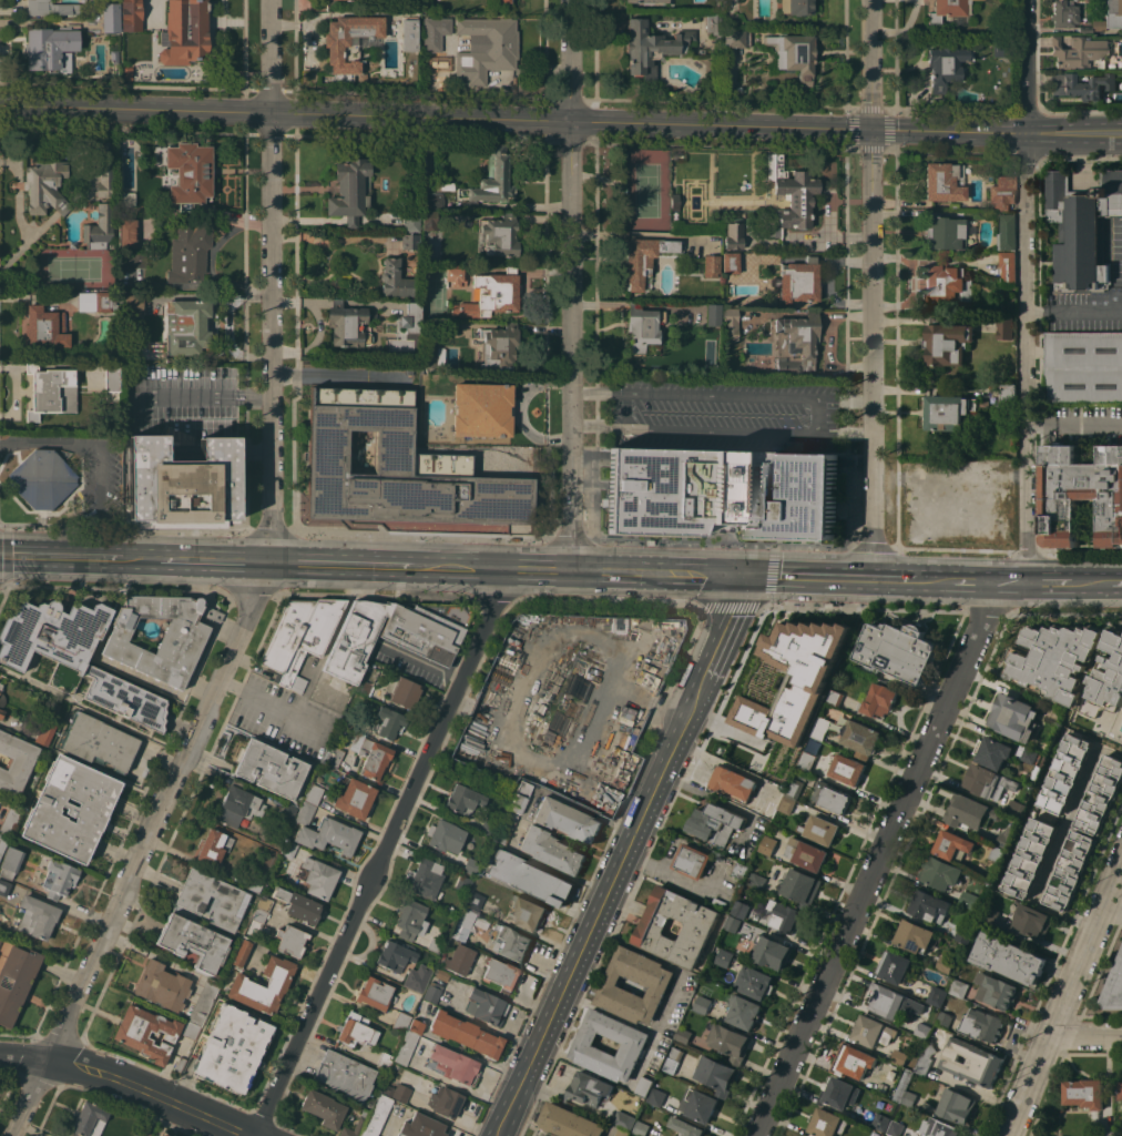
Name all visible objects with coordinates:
building: (646, 0)
building: (502, 1)
building: (797, 6)
building: (50, 8)
building: (951, 11)
building: (1064, 13)
building: (1113, 13)
building: (132, 17)
building: (111, 18)
building: (430, 23)
building: (714, 24)
building: (1099, 24)
building: (1085, 29)
building: (185, 31)
building: (410, 34)
building: (345, 38)
building: (736, 38)
building: (49, 47)
building: (652, 47)
building: (1004, 49)
building: (492, 51)
building: (1079, 52)
building: (113, 53)
building: (795, 53)
road: (272, 55)
road: (569, 61)
building: (439, 63)
road: (871, 64)
building: (946, 65)
road: (1027, 65)
building: (1120, 74)
building: (1083, 84)
road: (136, 108)
road: (421, 116)
road: (797, 126)
traffic signals: (873, 129)
road: (1074, 132)
building: (122, 139)
building: (154, 150)
building: (105, 166)
building: (190, 173)
building: (490, 181)
building: (945, 181)
building: (45, 186)
building: (351, 189)
park: (646, 189)
building: (1002, 192)
building: (794, 195)
building: (433, 200)
building: (674, 202)
road: (534, 205)
building: (430, 220)
building: (411, 222)
building: (100, 227)
building: (1082, 229)
building: (127, 232)
building: (946, 232)
building: (1007, 232)
building: (500, 234)
building: (734, 236)
building: (411, 241)
building: (428, 244)
building: (190, 251)
building: (644, 258)
building: (135, 260)
building: (731, 263)
building: (712, 265)
building: (1009, 268)
building: (456, 275)
building: (398, 280)
building: (799, 281)
building: (947, 284)
building: (492, 294)
building: (99, 301)
building: (134, 303)
road: (1074, 306)
building: (411, 317)
building: (714, 317)
road: (318, 324)
building: (731, 324)
building: (348, 325)
building: (643, 325)
building: (45, 327)
building: (187, 327)
building: (1004, 327)
road: (275, 337)
building: (797, 343)
building: (947, 343)
building: (400, 345)
building: (500, 346)
road: (570, 346)
building: (758, 348)
building: (433, 352)
road: (873, 354)
road: (1028, 356)
building: (1083, 367)
road: (343, 374)
building: (112, 378)
road: (249, 389)
building: (51, 390)
road: (180, 395)
building: (1007, 396)
road: (845, 397)
road: (249, 400)
road: (818, 405)
building: (482, 409)
building: (948, 412)
road: (1074, 423)
road: (598, 426)
road: (845, 433)
road: (102, 453)
building: (398, 467)
building: (43, 478)
building: (183, 484)
building: (723, 493)
building: (1082, 494)
road: (70, 557)
road: (205, 561)
road: (345, 566)
road: (494, 569)
road: (655, 574)
traffic signals: (741, 576)
road: (806, 577)
road: (892, 579)
road: (932, 580)
road: (990, 581)
road: (1116, 581)
road: (1051, 582)
road: (1092, 582)
building: (428, 628)
road: (589, 631)
road: (724, 632)
building: (286, 633)
building: (53, 638)
building: (312, 638)
building: (356, 638)
building: (178, 647)
building: (899, 650)
building: (1072, 665)
building: (368, 678)
building: (814, 679)
building: (404, 690)
building: (836, 694)
building: (125, 698)
building: (879, 700)
building: (1, 701)
road: (274, 703)
building: (1014, 717)
building: (390, 722)
building: (47, 726)
building: (822, 727)
building: (860, 738)
building: (99, 741)
building: (993, 751)
building: (371, 755)
building: (1030, 755)
building: (335, 757)
building: (603, 759)
building: (805, 761)
building: (16, 762)
building: (269, 768)
building: (847, 769)
building: (1065, 773)
building: (989, 782)
building: (734, 783)
building: (795, 788)
building: (315, 793)
building: (1101, 795)
building: (520, 797)
building: (355, 798)
building: (463, 798)
building: (834, 798)
building: (238, 804)
building: (787, 804)
building: (70, 809)
building: (288, 811)
building: (970, 812)
building: (306, 813)
building: (567, 820)
building: (9, 821)
building: (716, 823)
building: (488, 828)
building: (506, 829)
building: (819, 829)
building: (329, 835)
building: (445, 835)
building: (3, 843)
building: (1002, 843)
road: (1058, 843)
building: (952, 844)
building: (768, 845)
building: (214, 846)
building: (288, 849)
building: (552, 850)
road: (144, 851)
building: (806, 853)
road: (382, 854)
building: (1030, 858)
road: (879, 859)
building: (269, 860)
building: (692, 860)
building: (10, 862)
building: (472, 865)
building: (739, 870)
building: (1070, 870)
building: (940, 873)
road: (672, 874)
building: (59, 878)
building: (319, 878)
building: (531, 878)
building: (426, 879)
building: (756, 879)
building: (254, 884)
building: (800, 887)
building: (727, 893)
building: (969, 899)
building: (475, 900)
building: (191, 901)
building: (264, 903)
building: (298, 905)
building: (930, 906)
building: (741, 909)
road: (601, 911)
building: (529, 913)
building: (257, 914)
building: (990, 914)
building: (37, 916)
building: (784, 916)
building: (410, 919)
building: (482, 921)
building: (1032, 921)
building: (463, 924)
building: (734, 924)
building: (698, 929)
building: (263, 933)
building: (965, 934)
building: (916, 936)
building: (0, 940)
building: (292, 940)
building: (193, 942)
building: (511, 942)
building: (436, 944)
building: (771, 952)
building: (242, 953)
building: (397, 955)
building: (1009, 957)
building: (460, 958)
building: (724, 958)
building: (945, 964)
building: (897, 967)
building: (441, 974)
building: (499, 974)
building: (16, 981)
building: (419, 982)
building: (755, 982)
building: (244, 983)
building: (656, 984)
building: (162, 985)
building: (959, 987)
building: (1113, 987)
building: (997, 991)
building: (433, 992)
building: (375, 993)
building: (937, 995)
building: (203, 1001)
road: (1065, 1001)
building: (890, 1002)
building: (702, 1004)
building: (916, 1005)
building: (486, 1006)
building: (744, 1012)
building: (945, 1020)
building: (401, 1021)
building: (982, 1025)
building: (417, 1026)
building: (356, 1029)
building: (873, 1031)
building: (924, 1031)
building: (466, 1034)
building: (130, 1035)
building: (683, 1035)
road: (1085, 1038)
building: (731, 1043)
building: (634, 1044)
building: (232, 1048)
building: (411, 1049)
road: (24, 1055)
building: (899, 1057)
building: (925, 1058)
building: (673, 1059)
building: (385, 1061)
building: (853, 1061)
building: (972, 1062)
building: (180, 1064)
building: (455, 1067)
building: (345, 1075)
building: (716, 1075)
building: (645, 1086)
building: (591, 1088)
building: (1120, 1091)
building: (401, 1093)
building: (839, 1093)
road: (153, 1094)
building: (1085, 1095)
building: (656, 1096)
building: (909, 1097)
building: (446, 1102)
building: (957, 1105)
building: (639, 1106)
building: (701, 1106)
building: (324, 1108)
building: (377, 1115)
building: (88, 1117)
building: (624, 1120)
building: (569, 1122)
building: (880, 1122)
building: (826, 1123)
building: (357, 1125)
building: (421, 1126)
building: (640, 1127)
building: (685, 1127)
building: (938, 1128)
building: (895, 1129)
building: (623, 1132)
building: (1109, 1133)
building: (139, 1134)
building: (164, 1134)
building: (133, 1135)
building: (173, 1135)

